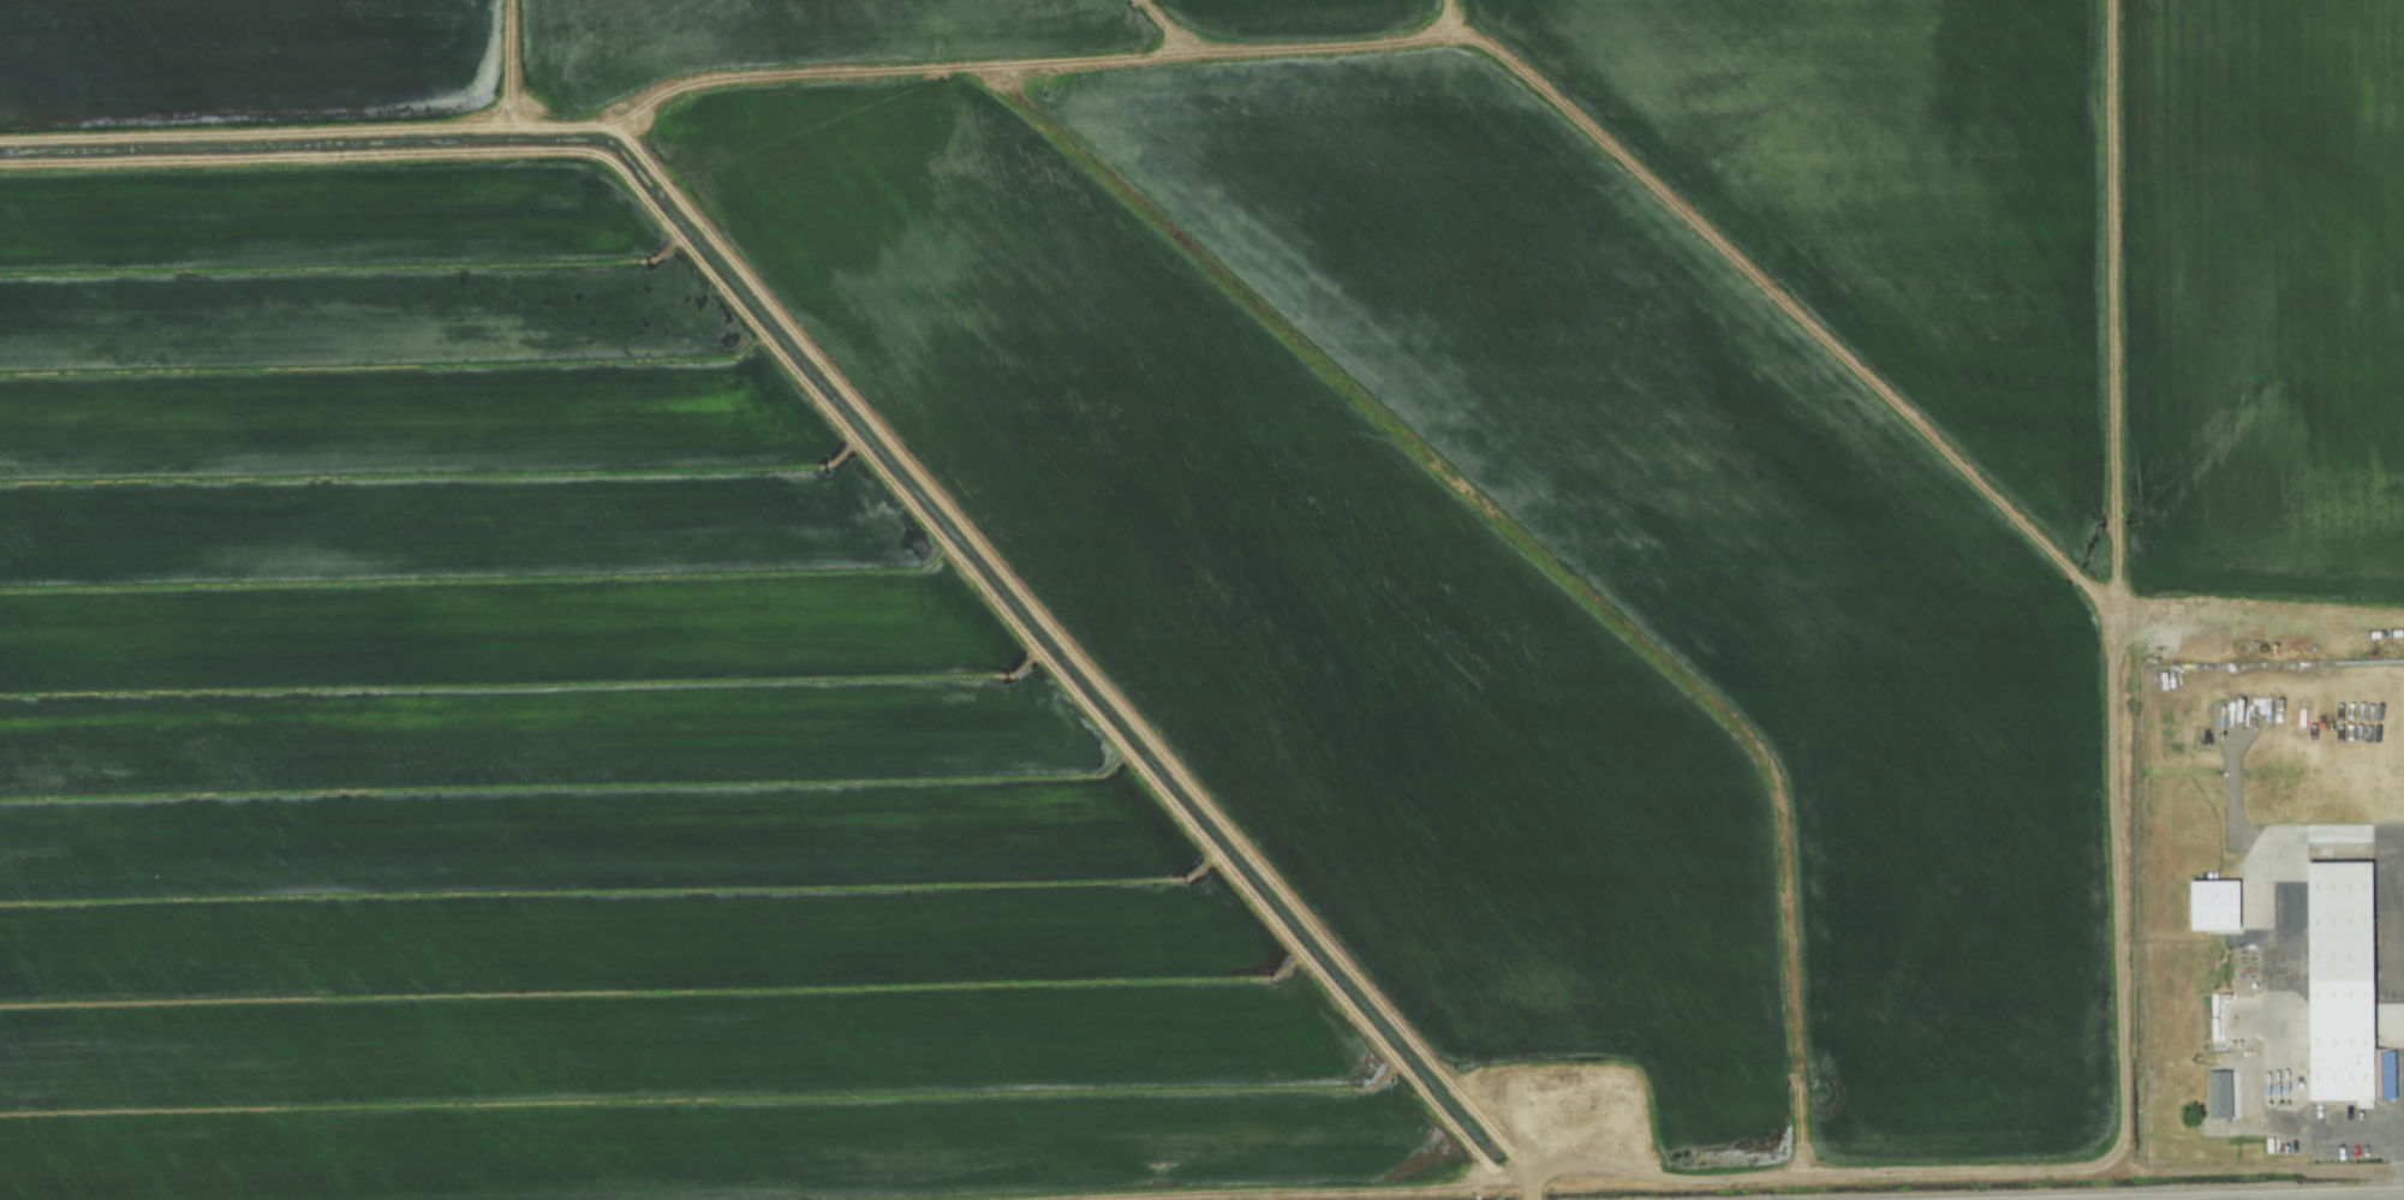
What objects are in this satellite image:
building: (2212, 903)
airport: (2255, 909)
building: (2337, 978)
building: (2386, 1065)
building: (2218, 1093)
road: (2402, 1141)
road: (2315, 1198)

